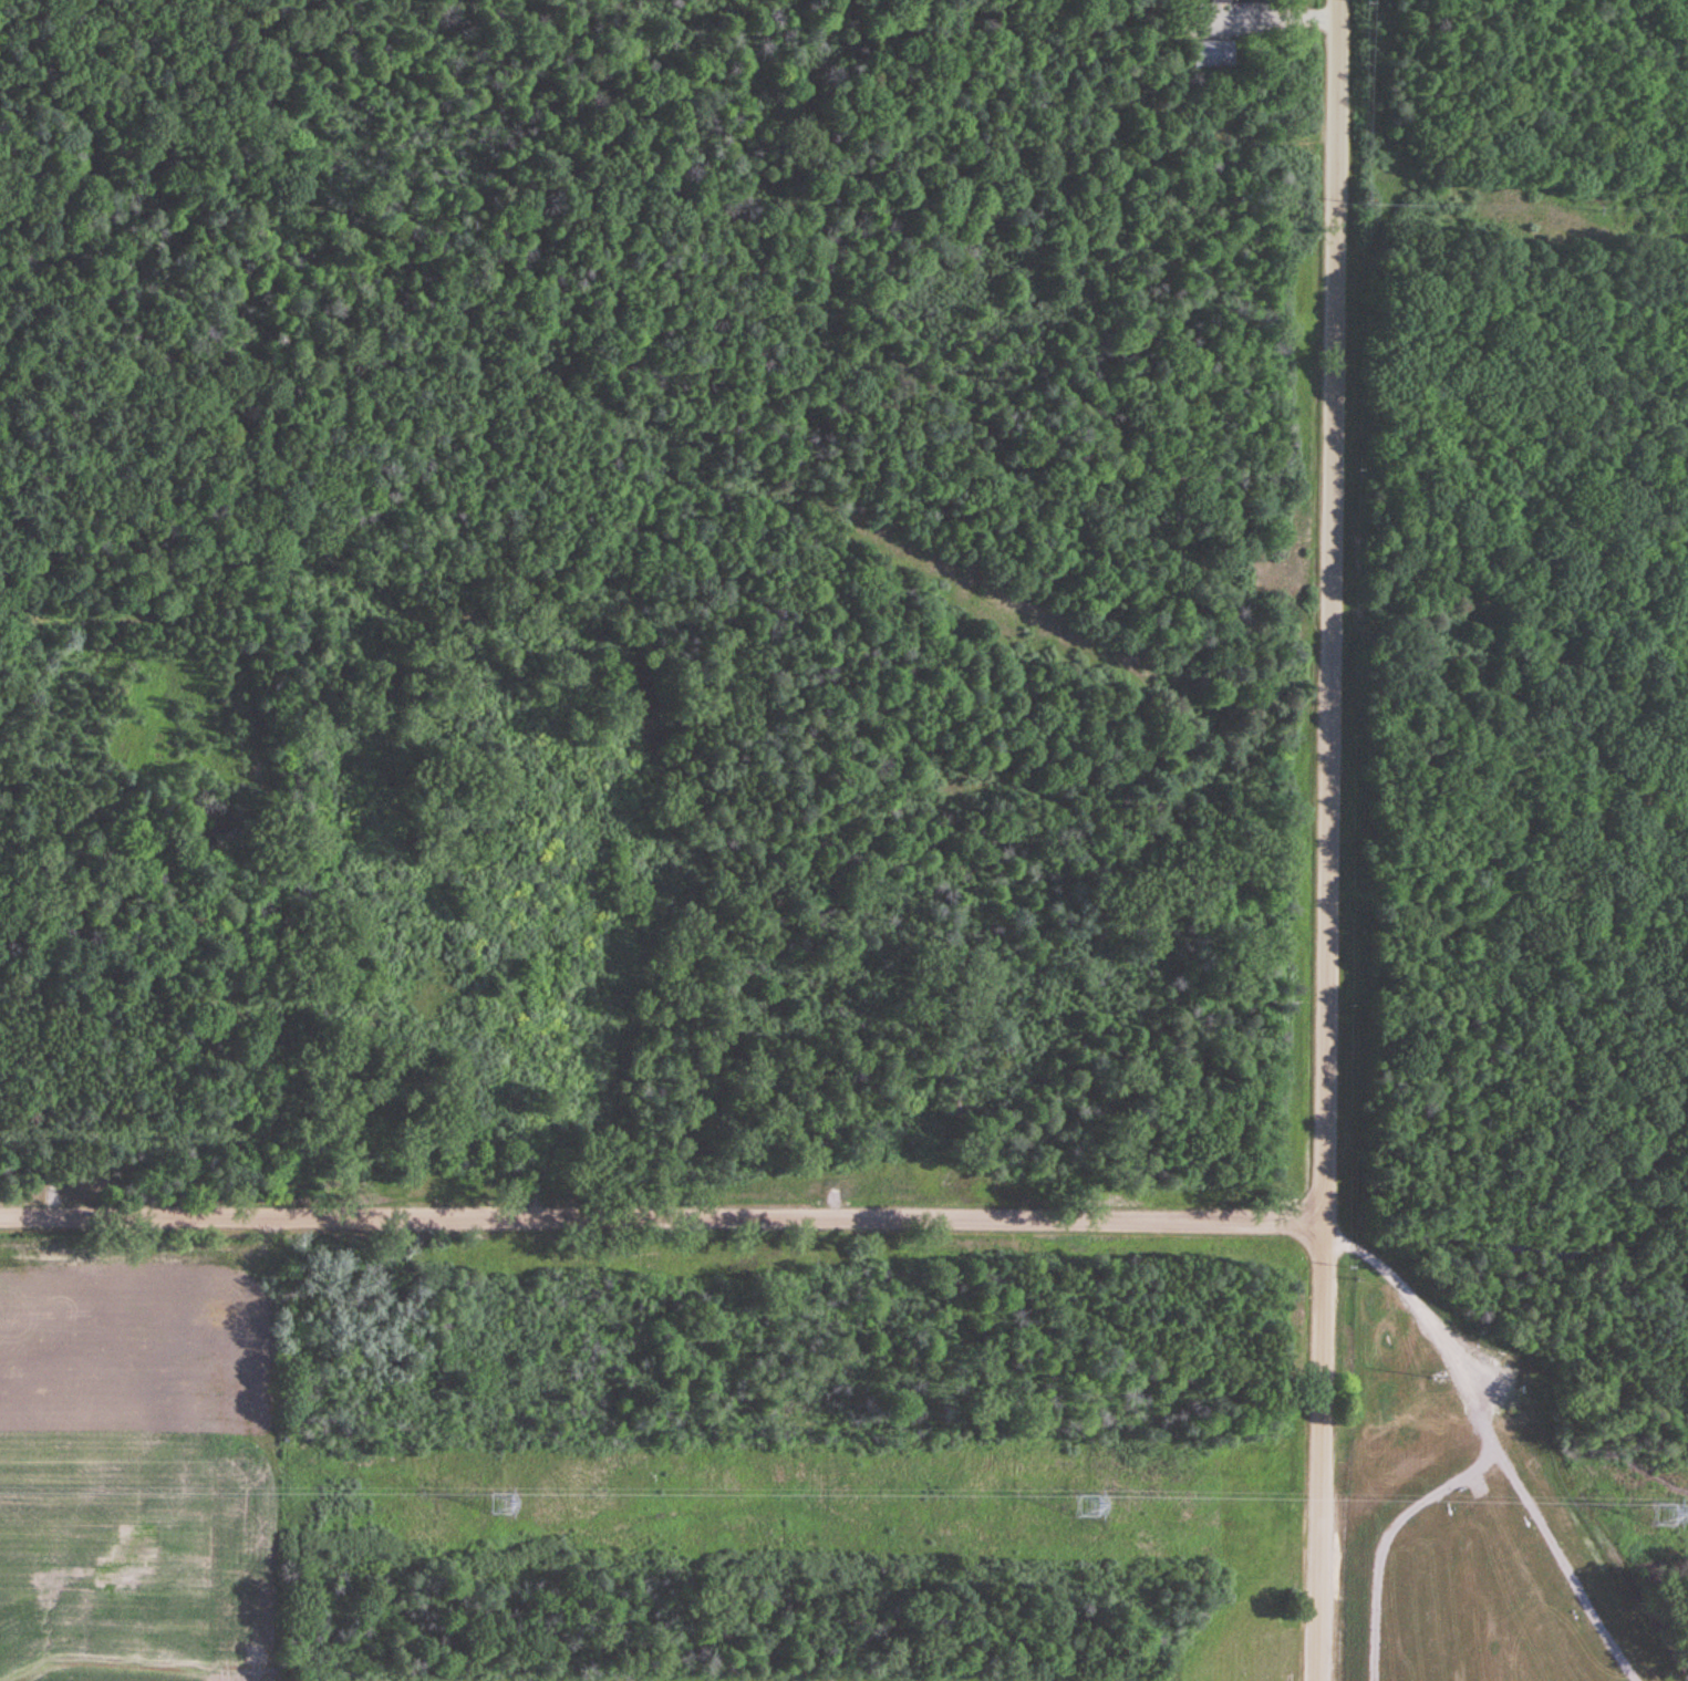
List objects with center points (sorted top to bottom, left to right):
building: (1234, 2)
road: (1270, 13)
parking lot: (1229, 19)
building: (1212, 55)
road: (1327, 840)
road: (662, 1220)
road: (1435, 1325)
road: (1568, 1380)
power tower: (505, 1505)
power tower: (1087, 1508)
power tower: (1666, 1517)
road: (1388, 1540)
road: (1565, 1573)

